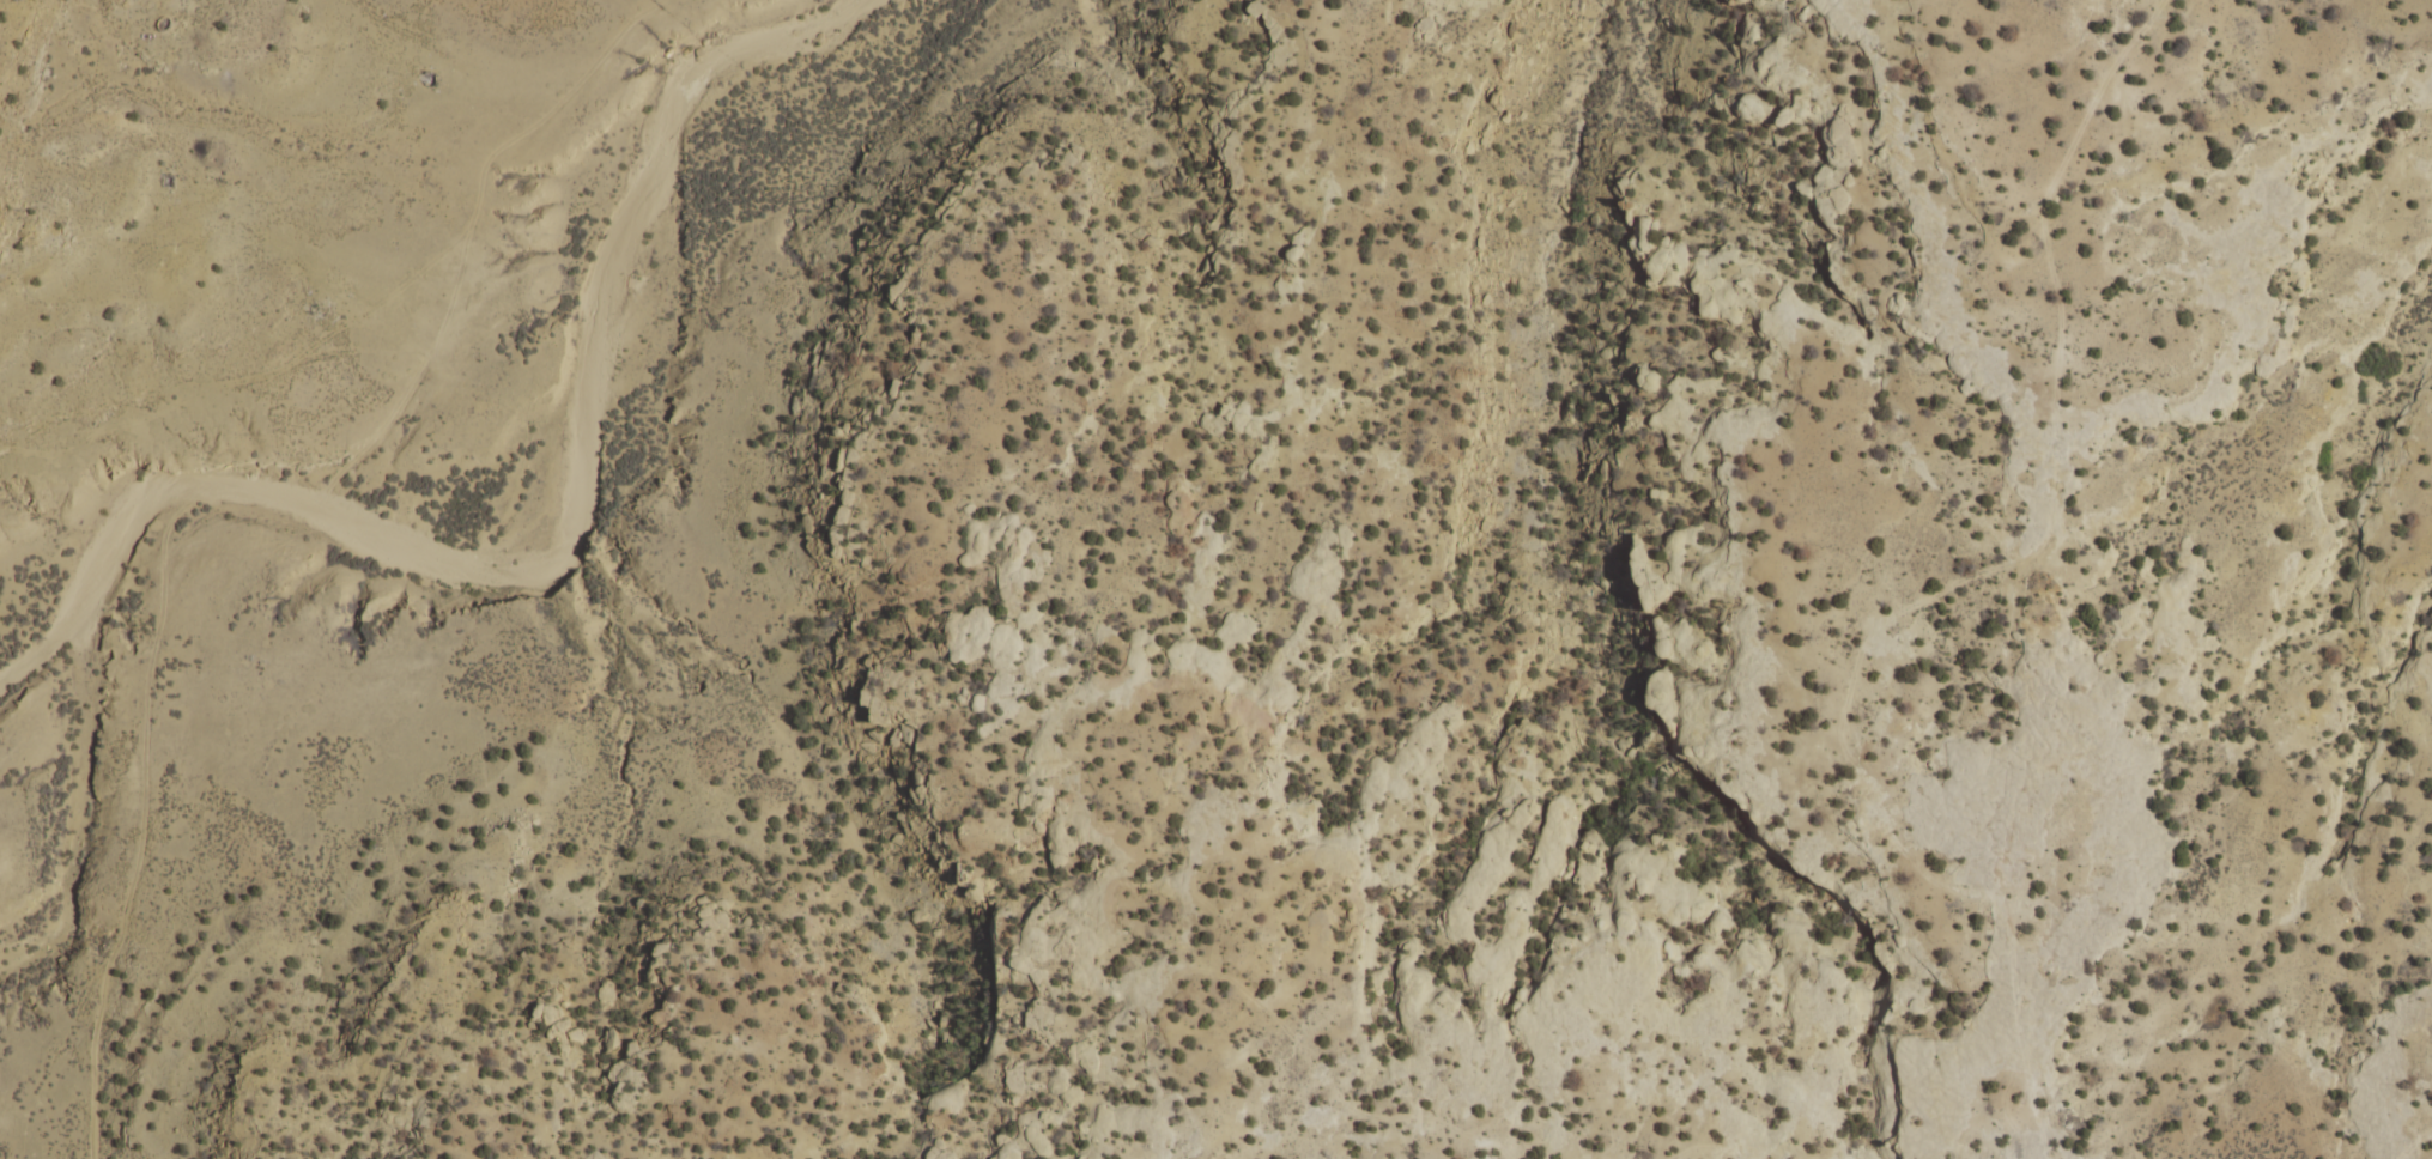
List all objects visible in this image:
road: (2, 1)
road: (513, 13)
road: (176, 498)

